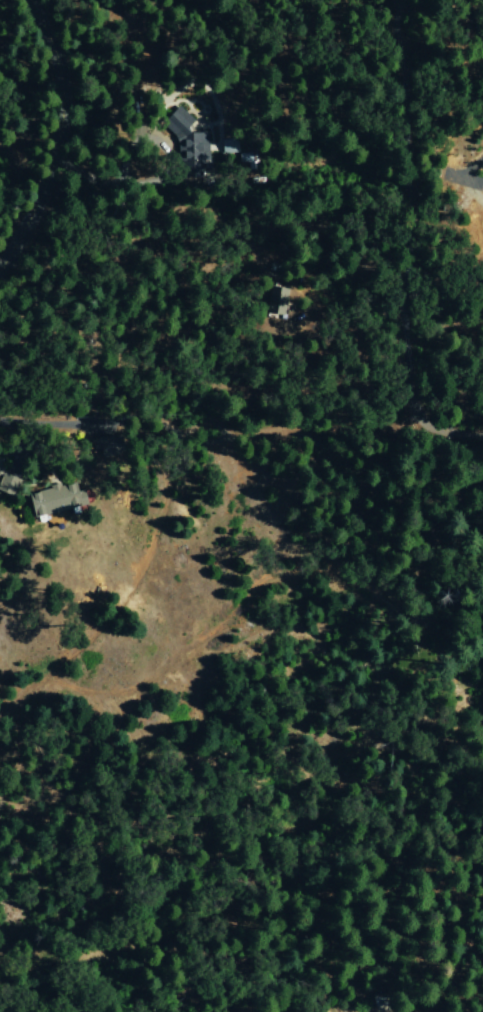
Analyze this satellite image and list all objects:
road: (56, 136)
building: (187, 142)
road: (64, 422)
building: (7, 484)

